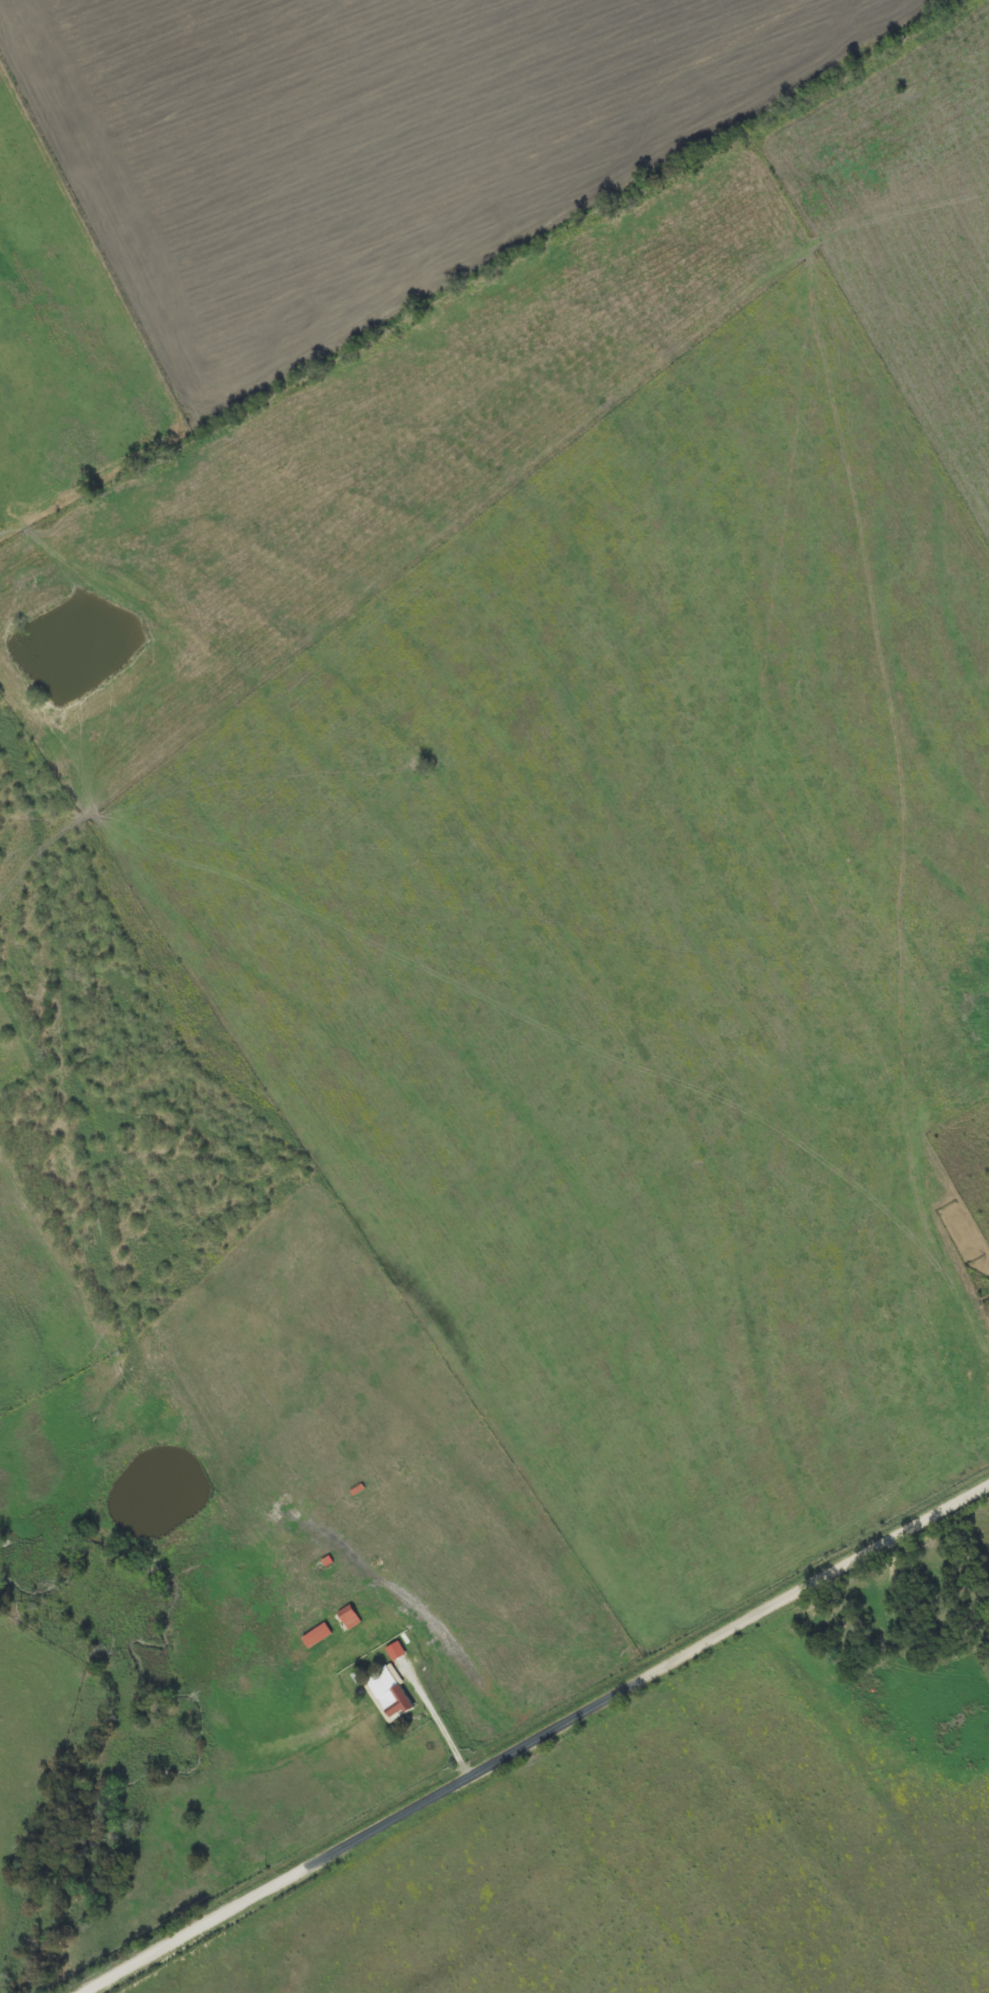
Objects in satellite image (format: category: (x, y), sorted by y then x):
building: (350, 1619)
building: (317, 1637)
building: (395, 1653)
building: (390, 1693)
road: (537, 1742)

